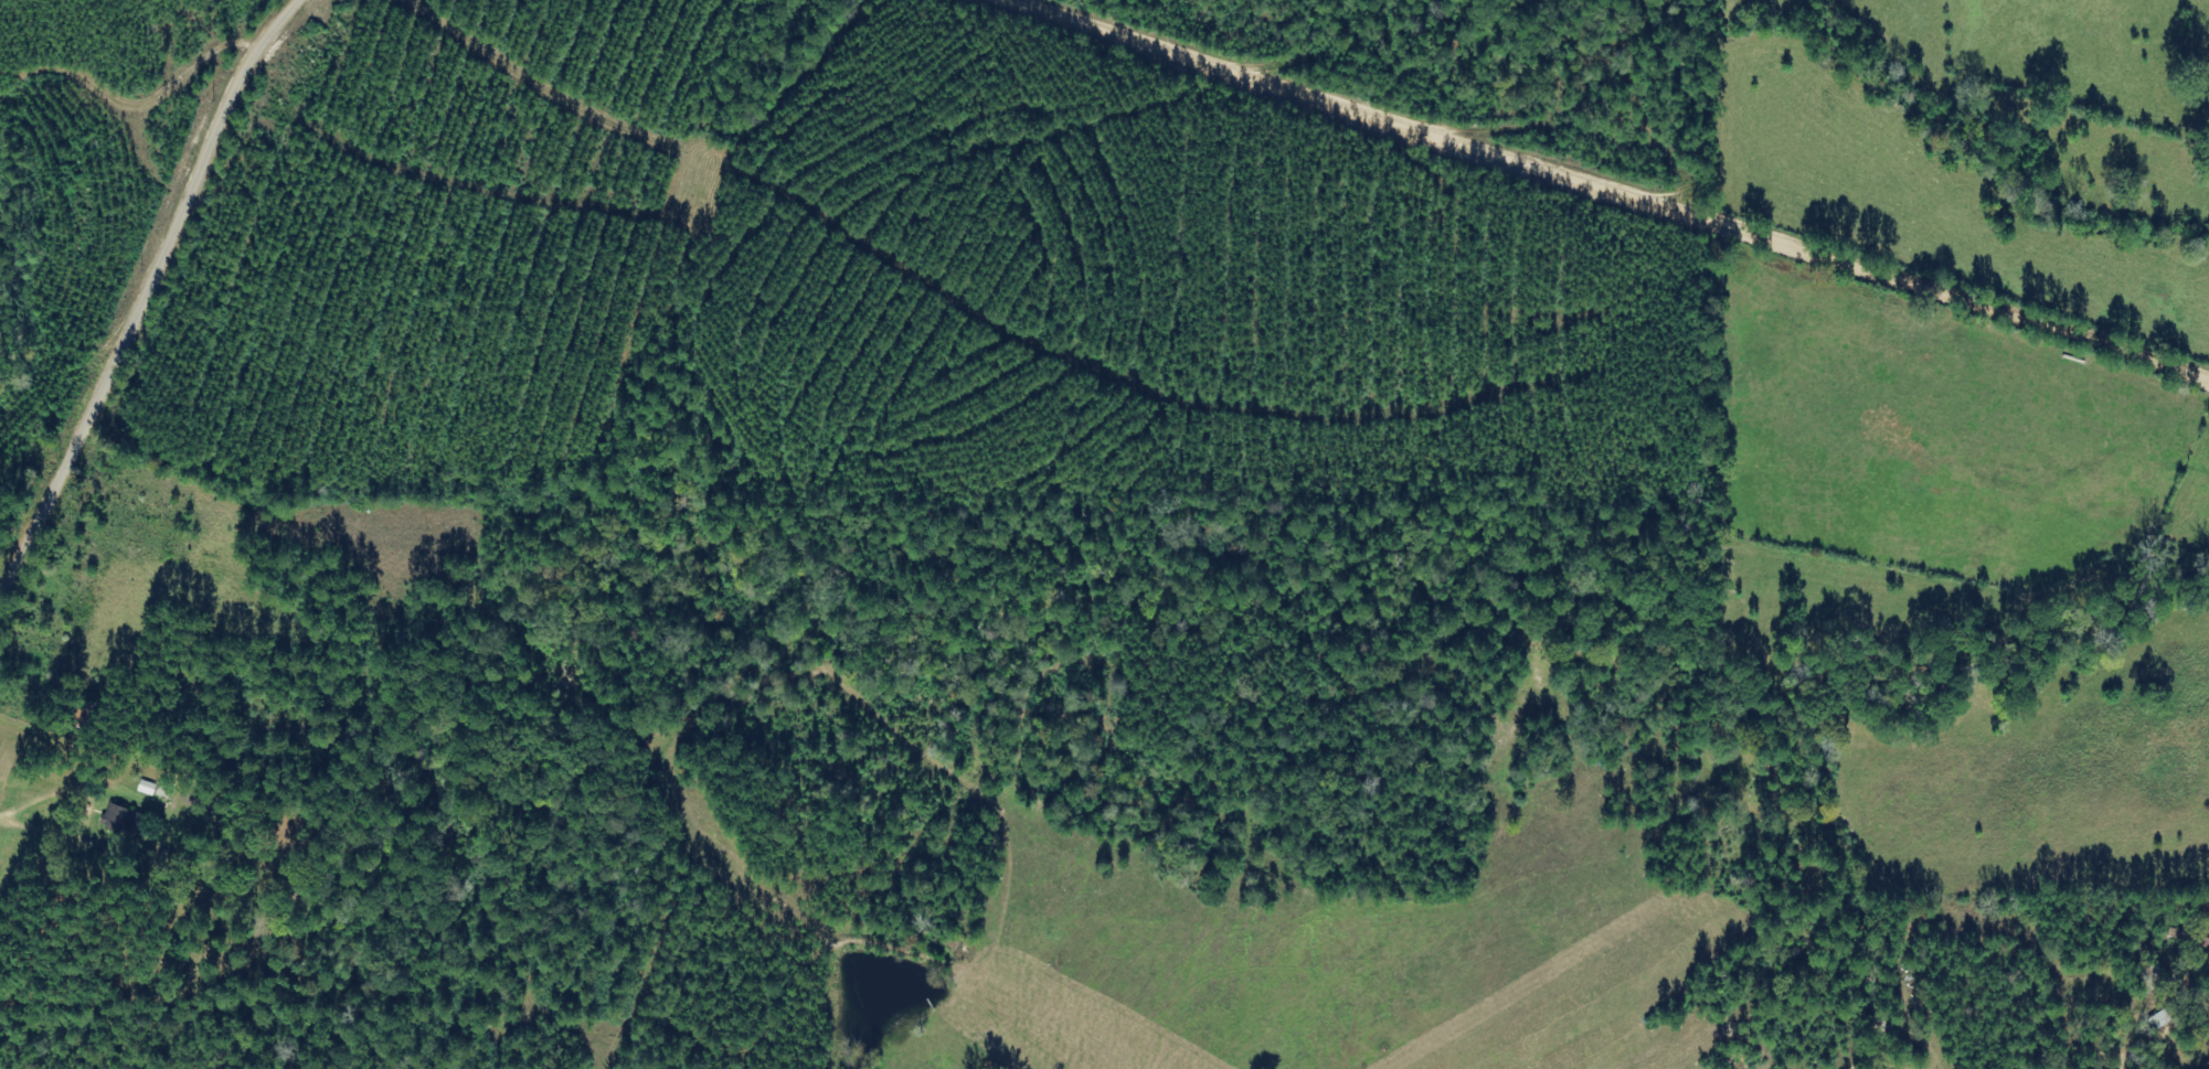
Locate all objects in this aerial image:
road: (1599, 190)
road: (118, 235)
road: (1613, 1065)

